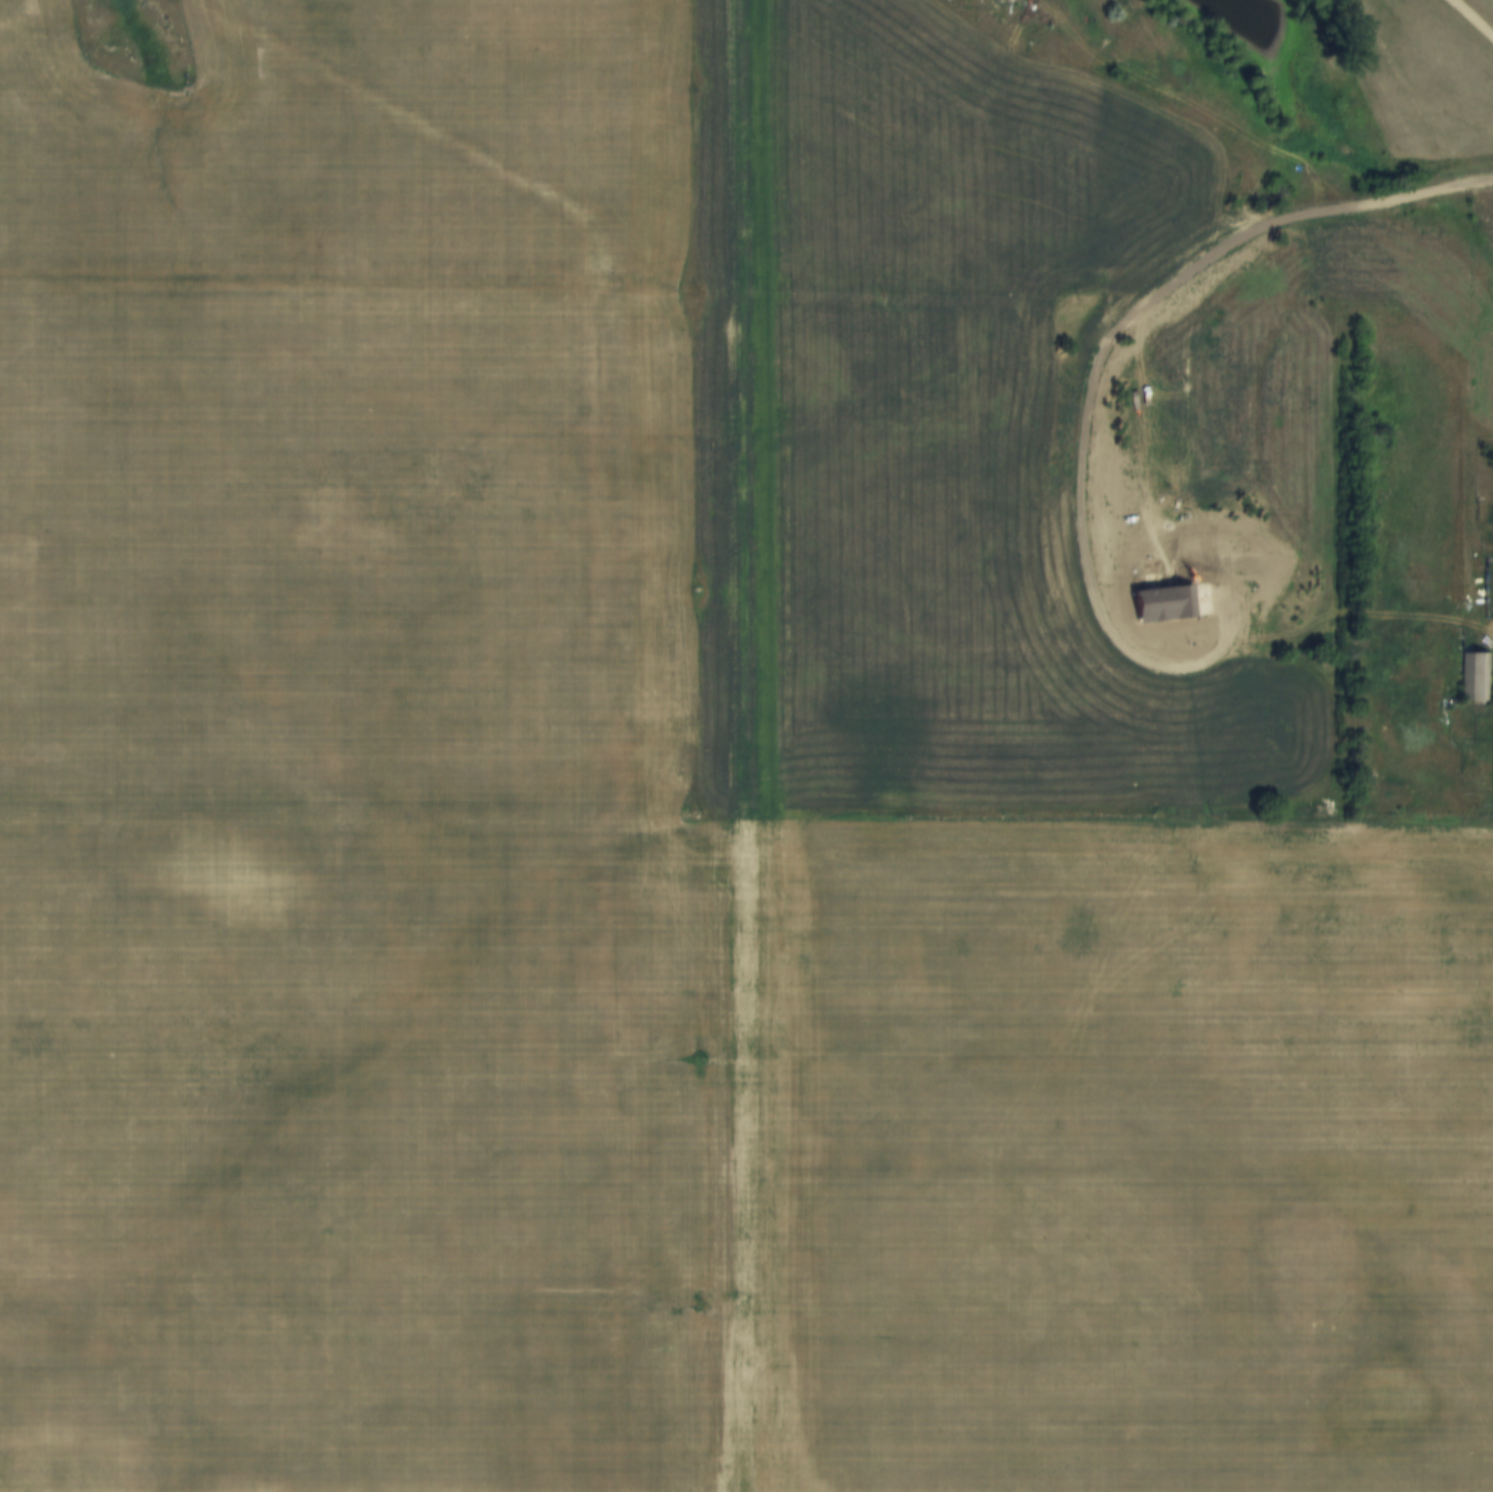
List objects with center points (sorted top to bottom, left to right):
road: (1470, 20)
building: (1474, 676)

